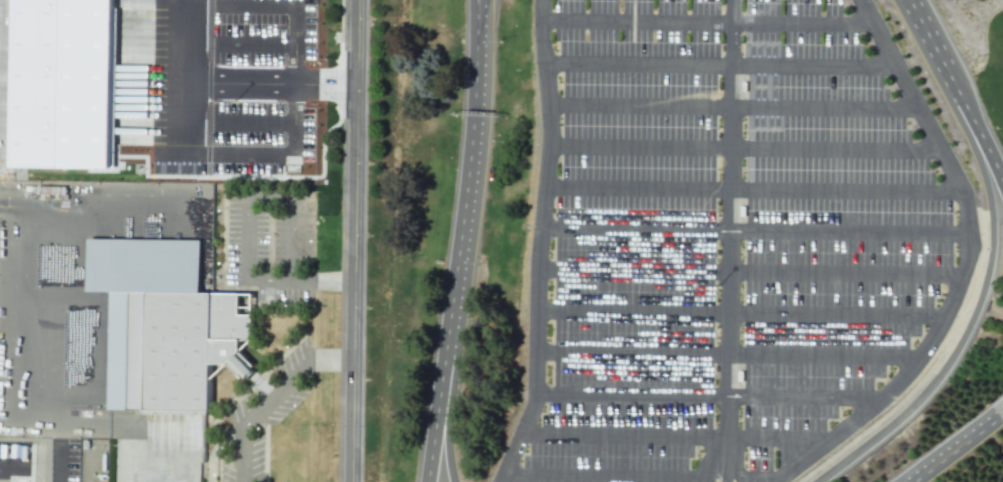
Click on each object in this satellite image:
road: (638, 20)
road: (99, 21)
road: (804, 23)
road: (295, 38)
road: (929, 39)
road: (640, 63)
road: (814, 63)
road: (325, 76)
road: (107, 80)
road: (214, 81)
road: (254, 81)
road: (254, 82)
road: (295, 84)
road: (325, 93)
road: (642, 106)
parking lot: (174, 107)
road: (826, 109)
road: (106, 121)
road: (977, 134)
road: (470, 147)
road: (640, 148)
road: (836, 149)
road: (182, 162)
road: (639, 188)
road: (846, 189)
road: (24, 214)
road: (636, 229)
road: (850, 230)
road: (731, 233)
parking lot: (836, 234)
road: (353, 240)
railway: (447, 241)
airport: (501, 241)
road: (243, 244)
road: (293, 244)
road: (540, 244)
parking lot: (271, 245)
parking lot: (628, 245)
road: (967, 267)
road: (635, 271)
road: (848, 274)
road: (279, 282)
road: (334, 282)
road: (975, 308)
road: (633, 314)
road: (836, 318)
building: (181, 348)
road: (632, 353)
road: (825, 353)
road: (454, 387)
road: (439, 388)
road: (631, 392)
road: (808, 392)
road: (272, 400)
parking lot: (266, 412)
road: (1001, 417)
road: (627, 436)
road: (778, 439)
road: (957, 450)
road: (215, 451)
road: (712, 467)
road: (608, 474)
road: (728, 474)
road: (736, 474)

